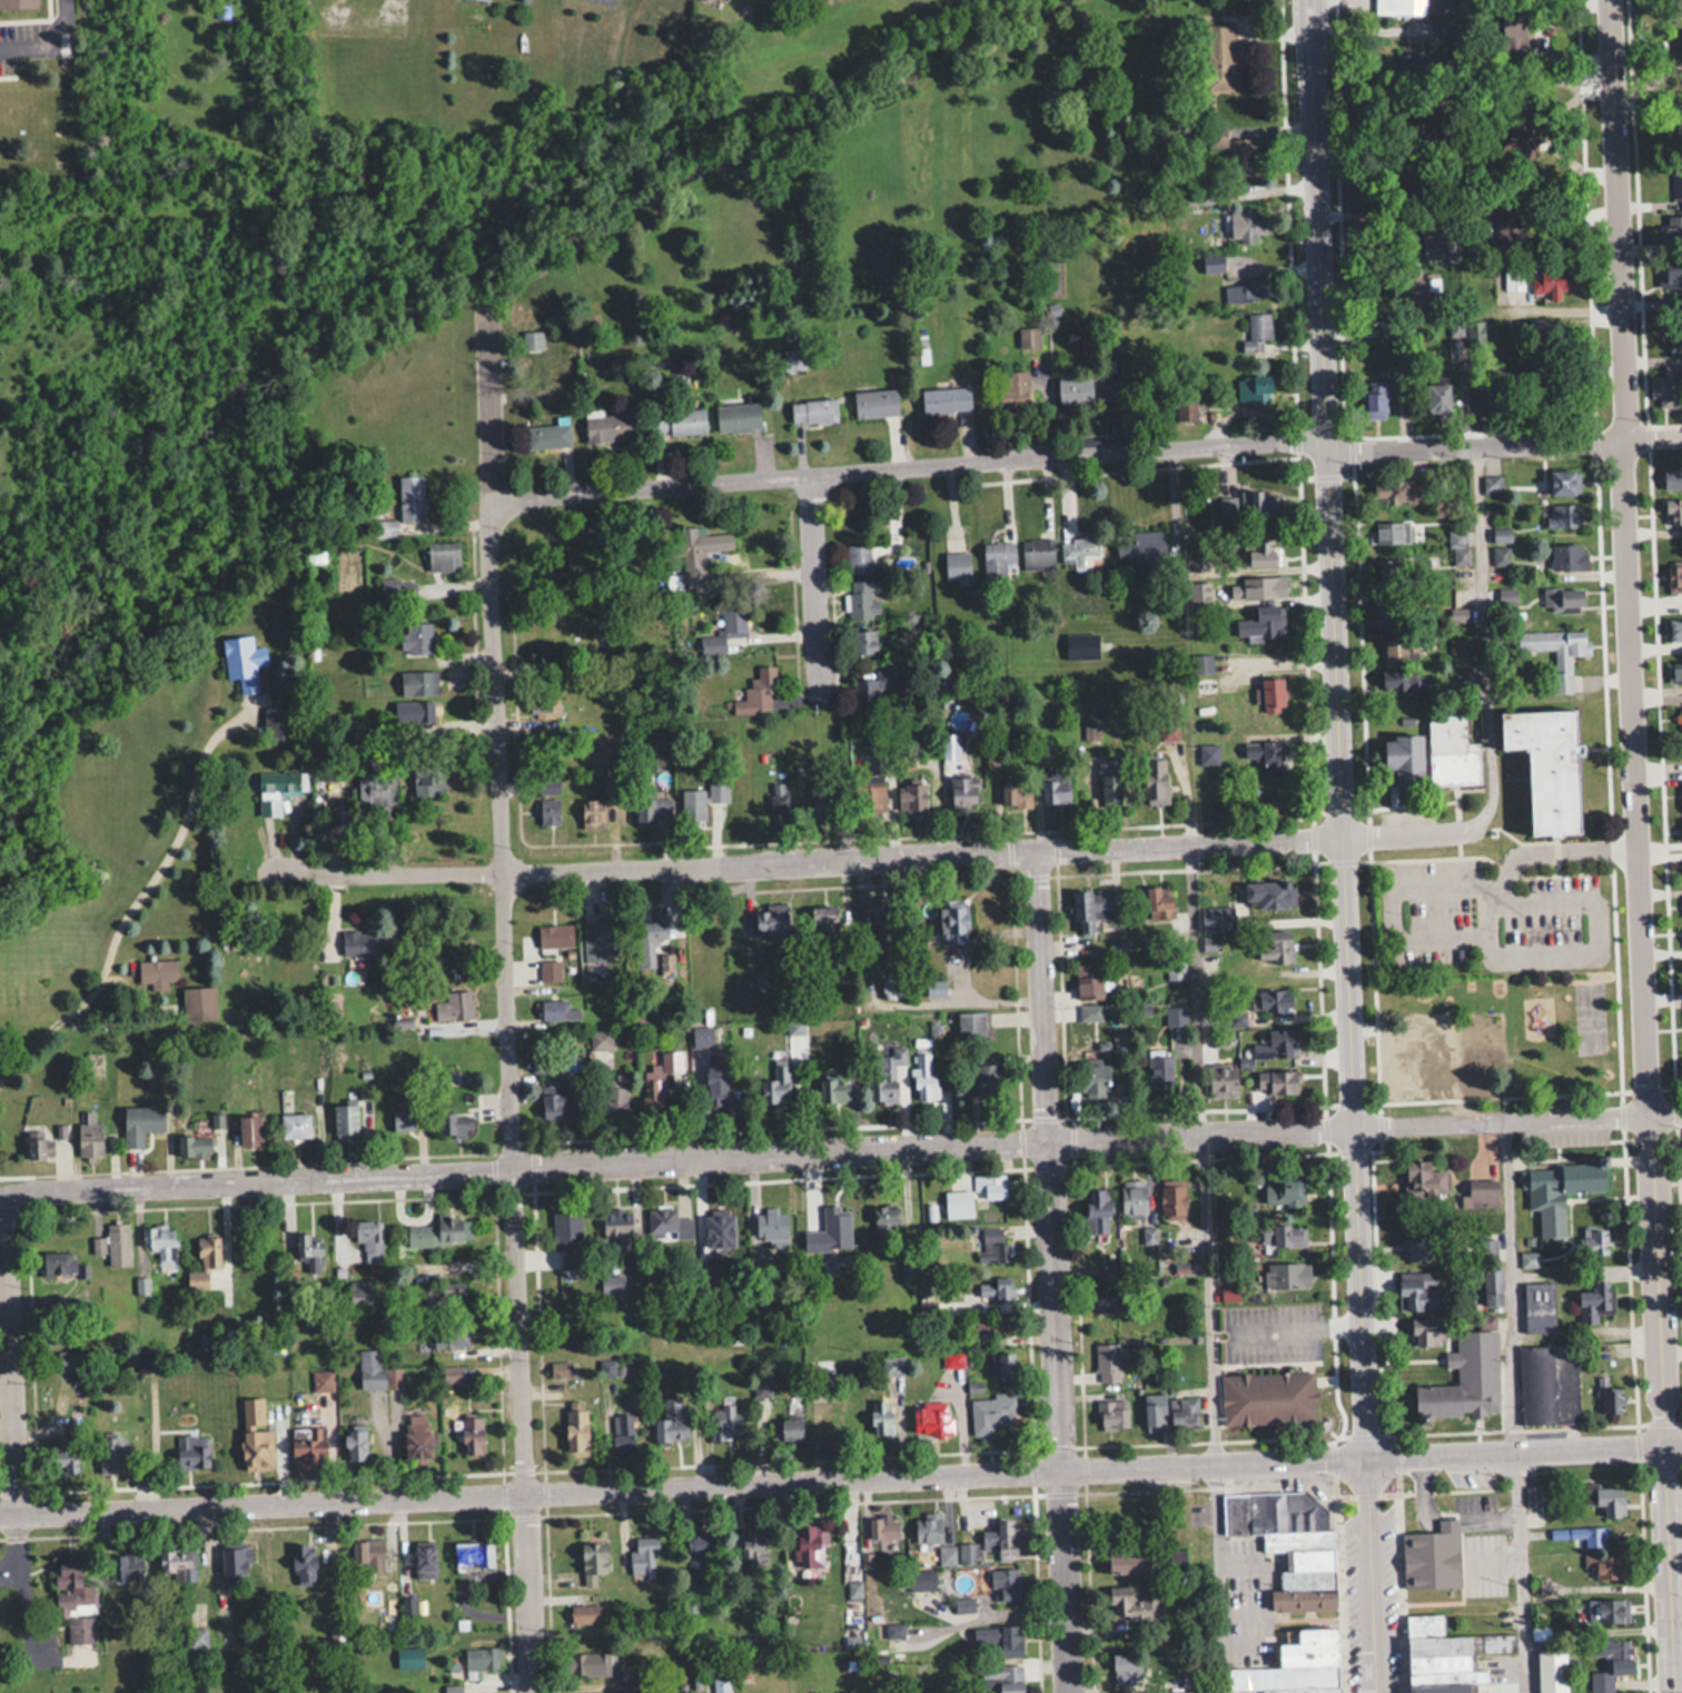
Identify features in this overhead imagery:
building: (487, 0)
building: (18, 3)
building: (1398, 6)
building: (1514, 31)
road: (46, 37)
building: (1681, 41)
building: (1220, 57)
building: (1679, 115)
building: (1241, 157)
building: (1676, 181)
building: (1199, 198)
building: (1512, 226)
building: (1246, 227)
building: (1673, 230)
building: (1432, 239)
building: (1213, 265)
building: (1672, 274)
building: (1513, 280)
building: (1245, 290)
building: (1415, 291)
building: (1257, 335)
building: (1028, 337)
building: (792, 359)
building: (1668, 386)
building: (1015, 389)
building: (1254, 389)
building: (1073, 390)
building: (1438, 398)
building: (944, 399)
building: (1496, 400)
building: (875, 403)
building: (1374, 404)
building: (1185, 406)
building: (812, 412)
building: (738, 417)
building: (679, 422)
building: (611, 427)
building: (547, 435)
road: (1505, 439)
road: (910, 466)
building: (1672, 477)
building: (1563, 482)
building: (1491, 484)
building: (1402, 491)
building: (410, 497)
building: (1248, 506)
building: (1673, 512)
building: (1562, 515)
building: (1392, 532)
building: (700, 546)
building: (1140, 546)
building: (1455, 546)
building: (1078, 551)
building: (1259, 552)
building: (1037, 553)
building: (998, 554)
building: (1569, 556)
building: (442, 557)
building: (857, 557)
building: (957, 565)
building: (1394, 567)
building: (1673, 575)
road: (820, 587)
building: (1260, 588)
building: (1505, 596)
building: (1563, 597)
building: (859, 598)
building: (1384, 608)
building: (1460, 613)
building: (732, 614)
building: (1258, 626)
building: (1675, 630)
building: (416, 637)
road: (1494, 638)
building: (863, 641)
building: (584, 645)
building: (1080, 645)
building: (1393, 650)
building: (1556, 650)
building: (1460, 652)
building: (544, 655)
building: (243, 661)
building: (1200, 664)
building: (1676, 673)
building: (1402, 681)
building: (418, 683)
building: (874, 686)
building: (758, 692)
building: (1272, 695)
building: (543, 711)
building: (417, 717)
building: (1679, 720)
building: (278, 723)
building: (1167, 731)
building: (1451, 750)
building: (1264, 753)
building: (1208, 754)
building: (1406, 760)
building: (1546, 768)
building: (1157, 772)
building: (427, 781)
building: (1110, 781)
building: (548, 784)
building: (1055, 785)
building: (278, 790)
building: (962, 793)
building: (1017, 794)
building: (778, 798)
building: (820, 799)
building: (872, 800)
building: (911, 800)
building: (700, 801)
building: (653, 809)
building: (548, 811)
building: (592, 813)
building: (1681, 830)
road: (1406, 834)
road: (1338, 845)
road: (1639, 845)
road: (824, 860)
building: (1269, 894)
road: (136, 904)
building: (1159, 907)
building: (1089, 909)
building: (769, 920)
building: (824, 921)
building: (954, 921)
building: (883, 924)
building: (654, 931)
building: (554, 935)
building: (603, 939)
building: (1277, 942)
building: (359, 943)
building: (933, 954)
building: (550, 971)
building: (157, 972)
building: (1089, 981)
building: (891, 987)
building: (933, 987)
road: (505, 1000)
building: (1273, 1000)
building: (199, 1002)
building: (454, 1007)
building: (557, 1011)
building: (1089, 1012)
building: (1175, 1017)
building: (972, 1024)
building: (1451, 1029)
building: (702, 1037)
building: (1217, 1039)
building: (600, 1040)
building: (1274, 1044)
building: (1435, 1059)
building: (93, 1062)
building: (670, 1063)
building: (1159, 1073)
building: (885, 1077)
building: (923, 1077)
building: (1223, 1079)
building: (1094, 1080)
building: (987, 1081)
building: (1275, 1081)
building: (716, 1085)
building: (775, 1087)
building: (833, 1090)
building: (655, 1092)
building: (553, 1098)
building: (615, 1099)
road: (1515, 1117)
building: (402, 1120)
building: (345, 1121)
building: (140, 1122)
building: (455, 1125)
building: (295, 1126)
building: (249, 1131)
building: (89, 1136)
building: (192, 1146)
building: (40, 1147)
road: (675, 1158)
building: (1426, 1182)
building: (989, 1188)
building: (1284, 1188)
building: (1557, 1190)
building: (1481, 1194)
building: (1134, 1198)
building: (1173, 1201)
building: (1096, 1211)
building: (822, 1219)
building: (885, 1219)
building: (617, 1224)
building: (669, 1224)
building: (771, 1227)
building: (436, 1231)
building: (719, 1231)
building: (1282, 1236)
road: (234, 1237)
building: (369, 1238)
building: (160, 1240)
building: (1594, 1241)
building: (118, 1244)
building: (307, 1246)
building: (995, 1246)
building: (1419, 1247)
building: (209, 1251)
building: (1528, 1259)
building: (58, 1264)
road: (1051, 1271)
building: (1287, 1275)
building: (611, 1285)
building: (1492, 1287)
building: (999, 1288)
building: (359, 1291)
building: (1228, 1291)
building: (1417, 1291)
building: (448, 1297)
building: (1594, 1299)
building: (1106, 1300)
building: (1538, 1307)
building: (991, 1326)
building: (1425, 1333)
building: (448, 1335)
building: (146, 1358)
building: (69, 1359)
building: (1107, 1362)
building: (891, 1364)
building: (1002, 1364)
building: (562, 1369)
building: (376, 1372)
building: (1466, 1376)
building: (321, 1382)
road: (7, 1383)
building: (1280, 1400)
building: (1612, 1402)
building: (1570, 1410)
building: (1154, 1412)
building: (991, 1413)
building: (1184, 1413)
building: (1111, 1415)
building: (881, 1418)
building: (669, 1422)
building: (725, 1422)
building: (931, 1423)
building: (576, 1428)
building: (786, 1432)
building: (622, 1433)
building: (472, 1435)
building: (416, 1436)
building: (354, 1445)
building: (308, 1448)
road: (1523, 1448)
building: (256, 1449)
building: (191, 1452)
building: (66, 1455)
building: (110, 1455)
road: (683, 1486)
building: (1605, 1498)
building: (882, 1526)
building: (928, 1526)
building: (1001, 1535)
building: (1590, 1535)
building: (1287, 1543)
building: (809, 1544)
building: (754, 1545)
building: (369, 1552)
building: (700, 1552)
building: (967, 1552)
building: (473, 1554)
building: (946, 1554)
building: (643, 1555)
building: (1432, 1555)
building: (1127, 1558)
building: (425, 1560)
building: (593, 1560)
building: (304, 1561)
building: (178, 1564)
building: (236, 1564)
building: (126, 1565)
building: (1607, 1565)
building: (921, 1578)
building: (1006, 1582)
building: (73, 1603)
building: (1122, 1603)
road: (31, 1604)
road: (1676, 1606)
building: (1607, 1608)
building: (583, 1613)
building: (387, 1621)
building: (1537, 1632)
building: (197, 1637)
building: (997, 1640)
building: (1446, 1655)
building: (482, 1656)
building: (1610, 1661)
building: (592, 1662)
building: (1121, 1664)
building: (1295, 1665)
building: (1551, 1671)
building: (1008, 1677)
building: (720, 1683)
building: (1190, 1691)

